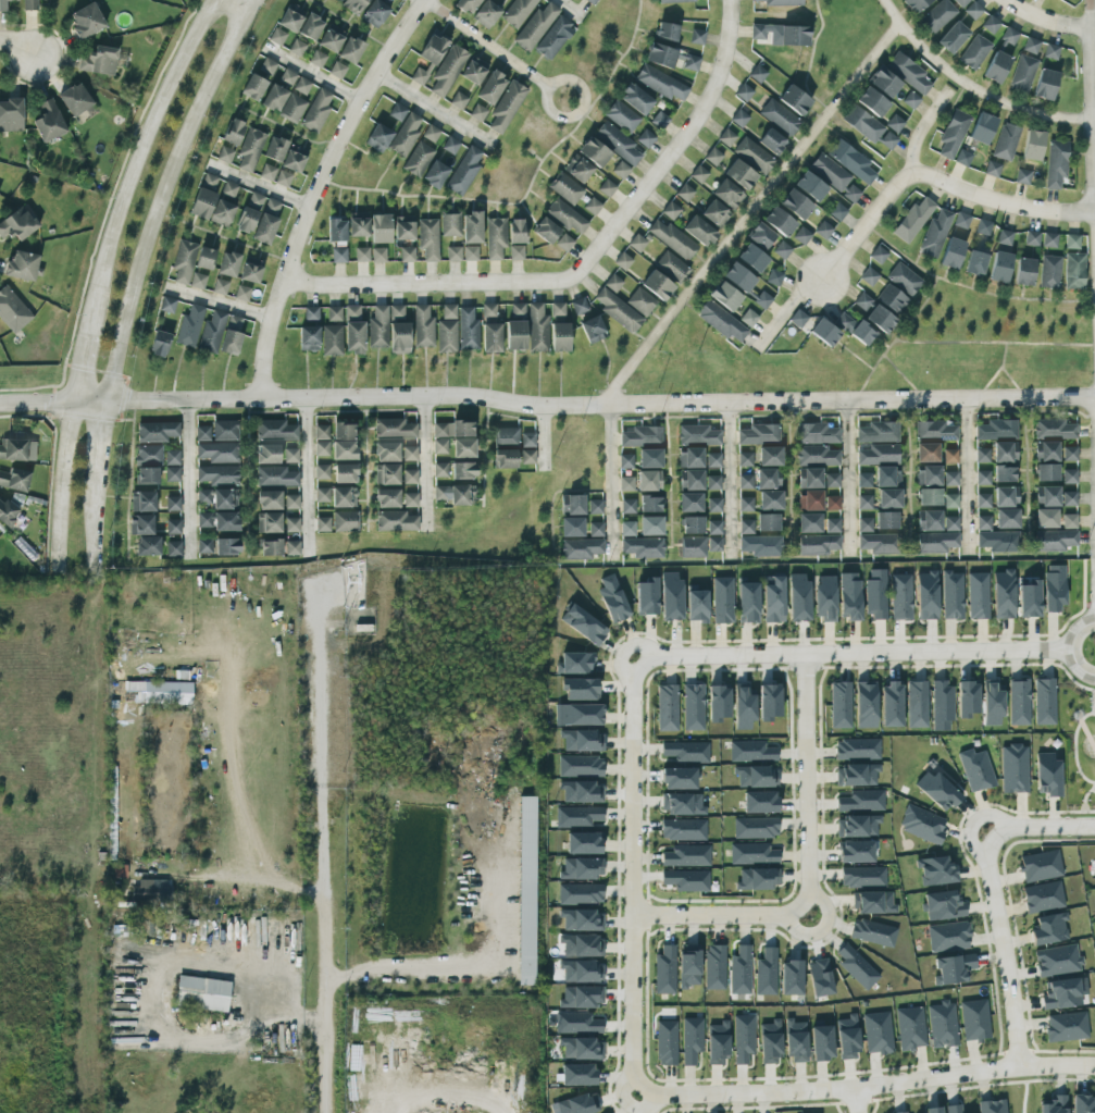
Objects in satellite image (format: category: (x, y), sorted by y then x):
building: (338, 1)
building: (590, 1)
building: (675, 1)
building: (782, 2)
building: (961, 2)
building: (3, 4)
building: (29, 4)
building: (354, 4)
building: (914, 4)
road: (236, 5)
building: (466, 5)
road: (572, 7)
building: (973, 10)
building: (375, 11)
building: (518, 11)
building: (486, 14)
building: (291, 16)
building: (936, 16)
road: (1046, 18)
building: (86, 21)
road: (351, 24)
building: (991, 24)
building: (311, 25)
building: (535, 26)
road: (1092, 26)
building: (667, 32)
building: (782, 34)
building: (277, 35)
building: (697, 36)
building: (1009, 36)
building: (951, 37)
building: (332, 38)
building: (553, 38)
road: (487, 44)
building: (1031, 46)
road: (17, 47)
building: (297, 47)
building: (433, 48)
building: (351, 49)
building: (974, 51)
building: (1050, 51)
building: (660, 55)
building: (318, 58)
road: (810, 59)
building: (98, 61)
building: (690, 62)
building: (267, 65)
building: (996, 66)
building: (338, 69)
building: (447, 70)
building: (473, 71)
building: (757, 73)
road: (311, 74)
building: (911, 74)
building: (1022, 74)
building: (420, 75)
building: (287, 76)
building: (884, 82)
building: (660, 83)
building: (1045, 84)
building: (302, 85)
building: (253, 87)
building: (490, 87)
road: (972, 88)
building: (744, 92)
building: (274, 98)
building: (635, 98)
building: (75, 99)
building: (795, 99)
building: (458, 100)
building: (910, 100)
building: (872, 101)
building: (506, 107)
building: (293, 108)
road: (434, 108)
road: (584, 110)
building: (316, 111)
building: (397, 112)
building: (477, 112)
building: (11, 115)
road: (563, 116)
building: (621, 116)
building: (780, 116)
building: (738, 118)
building: (659, 120)
building: (48, 121)
road: (580, 121)
building: (894, 123)
road: (920, 127)
building: (870, 128)
building: (982, 128)
building: (233, 132)
building: (431, 133)
building: (953, 133)
building: (405, 135)
building: (378, 137)
building: (726, 137)
building: (645, 138)
building: (772, 141)
building: (1006, 141)
building: (618, 144)
building: (1032, 145)
building: (250, 149)
building: (275, 149)
road: (1091, 150)
building: (594, 151)
building: (225, 154)
road: (534, 156)
building: (752, 156)
building: (713, 157)
building: (418, 158)
building: (962, 158)
road: (138, 160)
building: (293, 161)
building: (850, 161)
building: (441, 162)
building: (1056, 163)
building: (577, 169)
building: (992, 169)
building: (464, 170)
building: (621, 170)
building: (267, 172)
building: (829, 172)
building: (698, 174)
building: (739, 174)
building: (283, 178)
building: (810, 186)
road: (258, 187)
building: (607, 187)
building: (565, 188)
building: (229, 189)
road: (318, 189)
building: (684, 193)
building: (849, 193)
road: (164, 194)
building: (727, 194)
building: (204, 196)
building: (254, 200)
building: (795, 203)
road: (1008, 203)
building: (592, 206)
building: (670, 210)
road: (748, 210)
building: (837, 211)
building: (222, 213)
building: (714, 213)
building: (565, 215)
road: (869, 219)
building: (246, 220)
building: (912, 220)
building: (961, 220)
building: (266, 221)
building: (779, 221)
building: (17, 224)
building: (358, 224)
building: (450, 224)
building: (403, 227)
building: (471, 227)
building: (983, 227)
building: (336, 228)
building: (379, 228)
building: (545, 230)
building: (822, 230)
building: (515, 231)
building: (699, 231)
building: (934, 234)
building: (760, 235)
building: (801, 235)
building: (495, 237)
building: (1004, 237)
building: (427, 238)
building: (1031, 238)
building: (673, 239)
building: (1049, 240)
building: (1072, 242)
building: (563, 243)
building: (636, 243)
building: (782, 250)
building: (470, 252)
building: (515, 252)
building: (407, 253)
building: (453, 253)
building: (951, 253)
building: (338, 255)
building: (361, 255)
building: (378, 255)
building: (878, 255)
building: (206, 258)
building: (752, 258)
building: (184, 261)
building: (622, 261)
building: (975, 262)
building: (228, 263)
road: (585, 263)
building: (21, 265)
building: (671, 267)
building: (999, 267)
building: (250, 271)
building: (1023, 271)
building: (1049, 271)
building: (1074, 271)
building: (869, 276)
building: (738, 277)
building: (773, 277)
building: (904, 279)
building: (198, 281)
building: (612, 283)
building: (657, 285)
building: (220, 286)
road: (971, 287)
building: (241, 293)
building: (725, 296)
building: (891, 298)
building: (640, 301)
building: (862, 301)
road: (217, 304)
building: (166, 305)
building: (578, 305)
road: (784, 309)
building: (12, 310)
building: (618, 310)
building: (517, 311)
building: (558, 311)
building: (310, 312)
building: (334, 313)
building: (748, 318)
building: (880, 319)
building: (721, 321)
building: (189, 326)
building: (422, 326)
building: (377, 327)
building: (537, 327)
building: (466, 329)
building: (447, 330)
building: (490, 330)
building: (593, 330)
building: (855, 330)
building: (353, 331)
building: (398, 331)
building: (824, 332)
building: (221, 334)
building: (515, 335)
building: (308, 337)
building: (560, 337)
road: (895, 337)
building: (332, 339)
road: (994, 342)
building: (159, 344)
road: (78, 364)
road: (900, 375)
road: (990, 380)
road: (547, 406)
building: (394, 428)
building: (453, 429)
building: (936, 429)
building: (224, 430)
building: (275, 430)
building: (996, 430)
building: (1054, 430)
building: (157, 431)
building: (344, 431)
building: (321, 432)
building: (878, 432)
building: (202, 433)
building: (758, 433)
building: (817, 433)
building: (697, 434)
building: (505, 435)
road: (543, 436)
building: (642, 436)
road: (100, 437)
road: (1022, 437)
building: (527, 440)
building: (440, 446)
building: (321, 448)
building: (463, 448)
building: (13, 449)
building: (344, 449)
building: (217, 452)
building: (386, 452)
building: (1005, 452)
building: (1045, 452)
building: (926, 453)
building: (266, 454)
building: (409, 454)
building: (1069, 454)
building: (148, 455)
building: (290, 455)
building: (879, 455)
building: (982, 455)
building: (527, 456)
building: (770, 456)
building: (816, 456)
building: (949, 456)
building: (172, 457)
building: (505, 458)
building: (649, 458)
building: (689, 458)
building: (745, 459)
building: (712, 460)
building: (625, 461)
road: (428, 462)
building: (440, 469)
building: (462, 470)
building: (322, 471)
road: (906, 471)
building: (1046, 472)
building: (172, 473)
road: (310, 473)
building: (345, 473)
road: (787, 473)
road: (963, 473)
building: (1004, 473)
building: (217, 474)
building: (386, 474)
road: (667, 474)
road: (845, 474)
building: (146, 475)
building: (928, 475)
building: (1069, 475)
building: (275, 477)
building: (410, 477)
building: (887, 477)
road: (187, 478)
road: (247, 478)
road: (729, 478)
building: (768, 478)
building: (809, 478)
building: (983, 478)
building: (690, 479)
building: (950, 479)
building: (14, 480)
building: (649, 480)
building: (832, 480)
building: (863, 480)
road: (610, 481)
building: (745, 481)
building: (713, 482)
building: (626, 483)
road: (58, 485)
building: (440, 493)
building: (322, 495)
building: (462, 495)
building: (929, 496)
building: (1006, 496)
building: (1046, 496)
building: (343, 497)
building: (217, 498)
building: (387, 498)
building: (888, 498)
building: (1069, 498)
building: (269, 499)
building: (410, 499)
building: (770, 499)
building: (809, 500)
building: (950, 500)
building: (982, 500)
building: (142, 502)
building: (291, 502)
building: (690, 502)
building: (864, 502)
building: (172, 503)
building: (832, 503)
building: (572, 504)
building: (650, 504)
building: (745, 504)
building: (713, 505)
building: (595, 506)
building: (627, 506)
building: (8, 511)
building: (1006, 518)
building: (1045, 518)
building: (204, 519)
building: (886, 520)
building: (929, 520)
building: (1069, 520)
road: (90, 521)
building: (226, 521)
building: (345, 521)
building: (396, 521)
building: (269, 522)
building: (768, 522)
building: (809, 522)
building: (983, 522)
building: (322, 523)
building: (950, 523)
building: (291, 524)
building: (692, 524)
building: (864, 524)
building: (140, 525)
building: (650, 525)
building: (832, 525)
building: (173, 527)
building: (572, 527)
building: (746, 527)
building: (627, 528)
building: (596, 529)
building: (714, 535)
building: (1055, 540)
building: (998, 541)
building: (936, 542)
building: (879, 543)
building: (818, 544)
building: (148, 545)
building: (204, 545)
building: (761, 545)
building: (227, 546)
building: (693, 546)
building: (173, 547)
building: (270, 547)
building: (291, 547)
building: (643, 547)
building: (581, 548)
building: (1054, 588)
building: (875, 594)
building: (1003, 594)
building: (926, 595)
building: (951, 595)
building: (646, 596)
building: (671, 596)
building: (849, 596)
building: (901, 596)
building: (978, 596)
building: (798, 597)
building: (612, 598)
building: (773, 598)
building: (825, 598)
building: (722, 599)
building: (1029, 599)
building: (748, 602)
building: (697, 606)
building: (584, 624)
road: (1073, 648)
road: (850, 652)
building: (574, 663)
building: (580, 689)
building: (158, 692)
road: (1090, 694)
building: (967, 698)
building: (769, 701)
building: (1044, 702)
building: (718, 703)
building: (1019, 703)
building: (866, 704)
building: (917, 704)
building: (841, 705)
building: (891, 705)
building: (942, 705)
building: (992, 705)
building: (693, 706)
building: (667, 707)
building: (744, 708)
building: (578, 715)
building: (583, 740)
road: (1072, 747)
building: (857, 749)
building: (686, 751)
building: (751, 751)
building: (581, 765)
building: (1013, 768)
building: (976, 770)
building: (856, 775)
building: (1047, 775)
building: (757, 776)
building: (679, 778)
building: (936, 790)
building: (582, 792)
building: (861, 801)
building: (760, 802)
road: (1082, 802)
building: (682, 803)
building: (578, 816)
building: (922, 824)
building: (857, 826)
building: (756, 828)
building: (683, 829)
building: (584, 842)
road: (322, 851)
building: (856, 851)
building: (1094, 852)
building: (752, 853)
building: (686, 855)
road: (807, 865)
building: (1040, 866)
building: (582, 868)
building: (936, 870)
road: (629, 875)
building: (862, 876)
building: (758, 878)
building: (686, 880)
road: (992, 889)
building: (152, 890)
building: (526, 890)
building: (580, 893)
building: (1094, 894)
building: (1043, 896)
building: (873, 902)
building: (944, 905)
building: (582, 920)
road: (819, 928)
building: (1049, 929)
building: (872, 932)
building: (948, 936)
building: (582, 945)
building: (1057, 960)
building: (688, 966)
building: (714, 967)
building: (857, 967)
road: (443, 968)
building: (954, 968)
building: (664, 969)
building: (741, 970)
building: (582, 972)
building: (766, 972)
building: (791, 977)
building: (820, 977)
building: (201, 993)
building: (1061, 993)
building: (582, 997)
building: (974, 1019)
building: (577, 1023)
building: (942, 1024)
building: (1066, 1026)
building: (910, 1028)
building: (878, 1032)
building: (847, 1037)
building: (743, 1038)
building: (692, 1040)
building: (796, 1041)
building: (665, 1042)
building: (717, 1042)
building: (770, 1042)
building: (821, 1042)
building: (581, 1049)
building: (577, 1074)
road: (869, 1087)
road: (1024, 1088)
road: (856, 1101)
building: (576, 1104)
building: (1055, 1104)
building: (1082, 1104)
building: (992, 1106)
building: (954, 1109)
building: (933, 1110)
building: (904, 1112)

